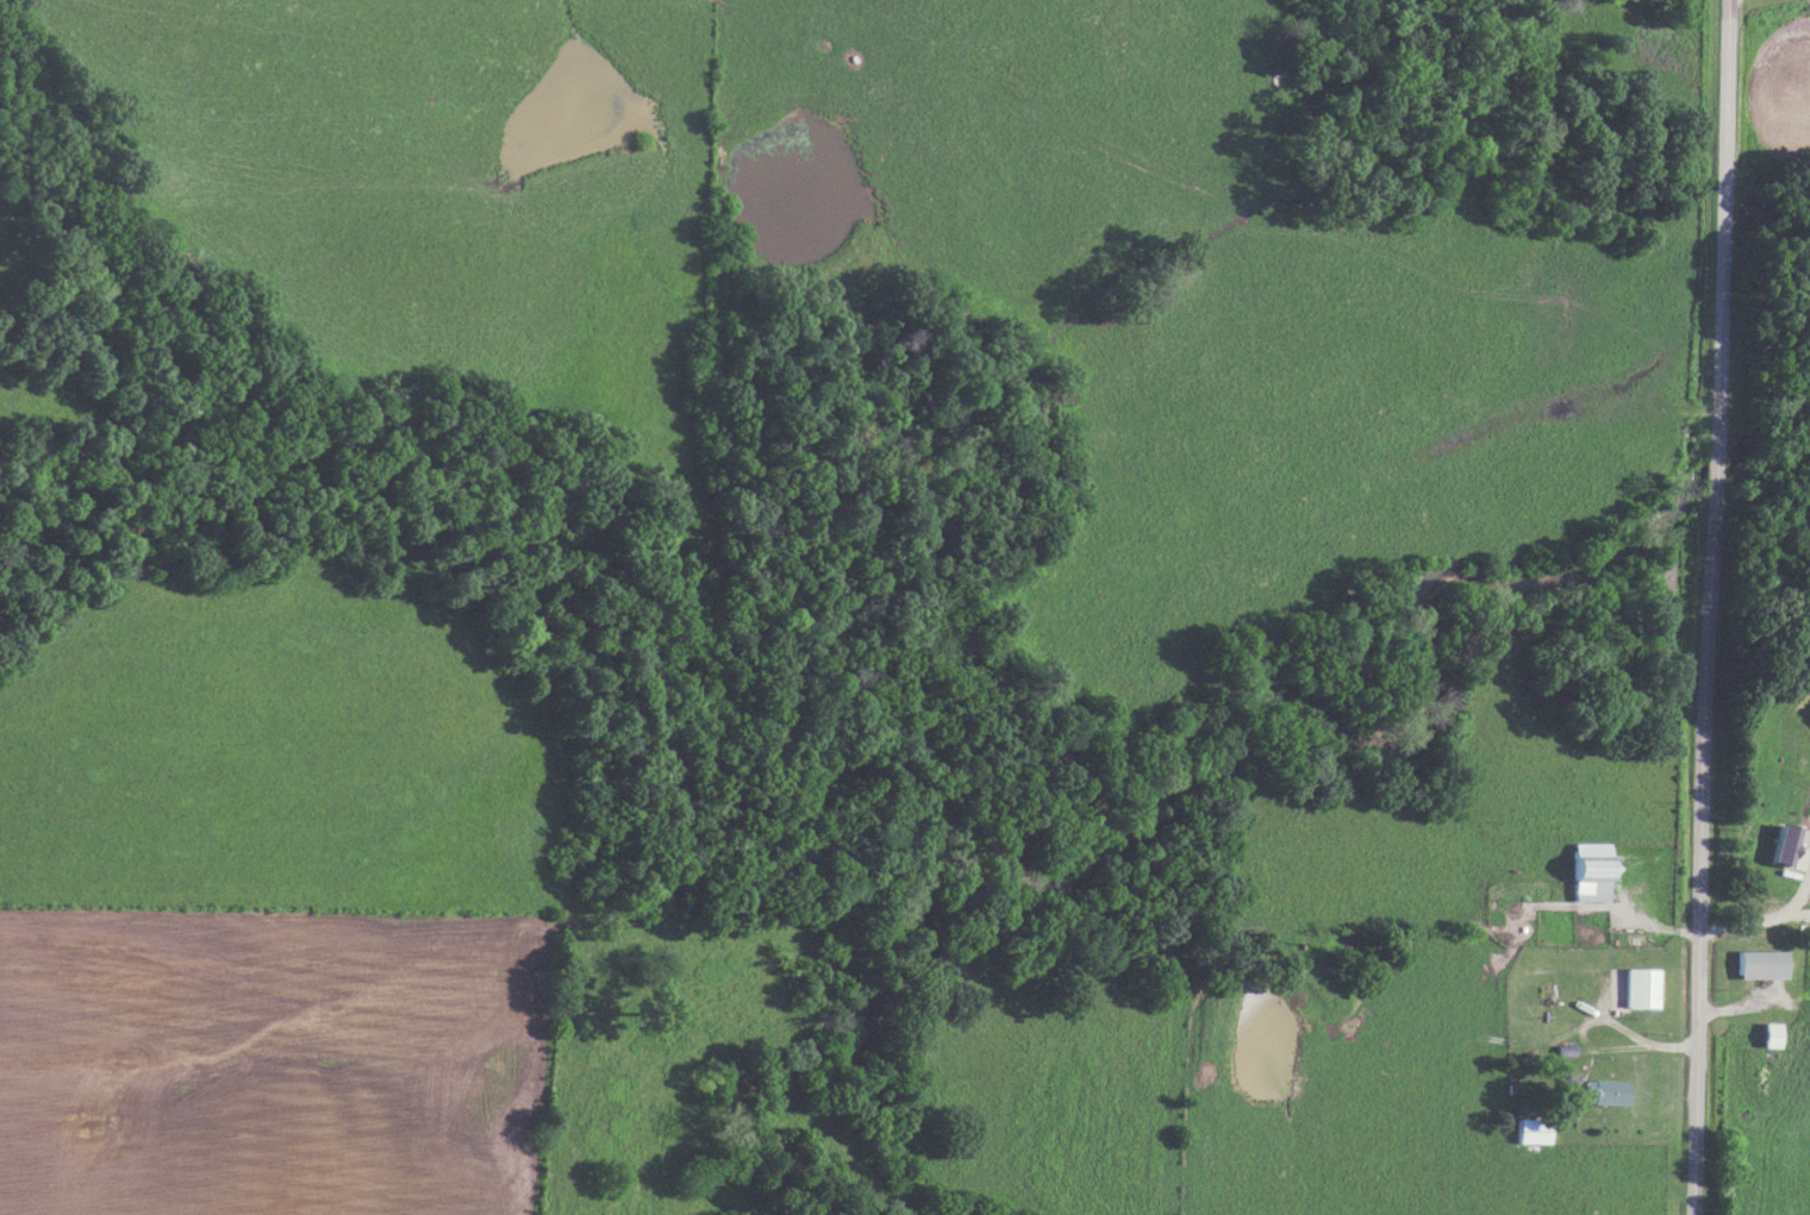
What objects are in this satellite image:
road: (1711, 607)
building: (1585, 870)
building: (1754, 963)
building: (1636, 987)
building: (1764, 1034)
building: (1597, 1091)
building: (1529, 1127)

